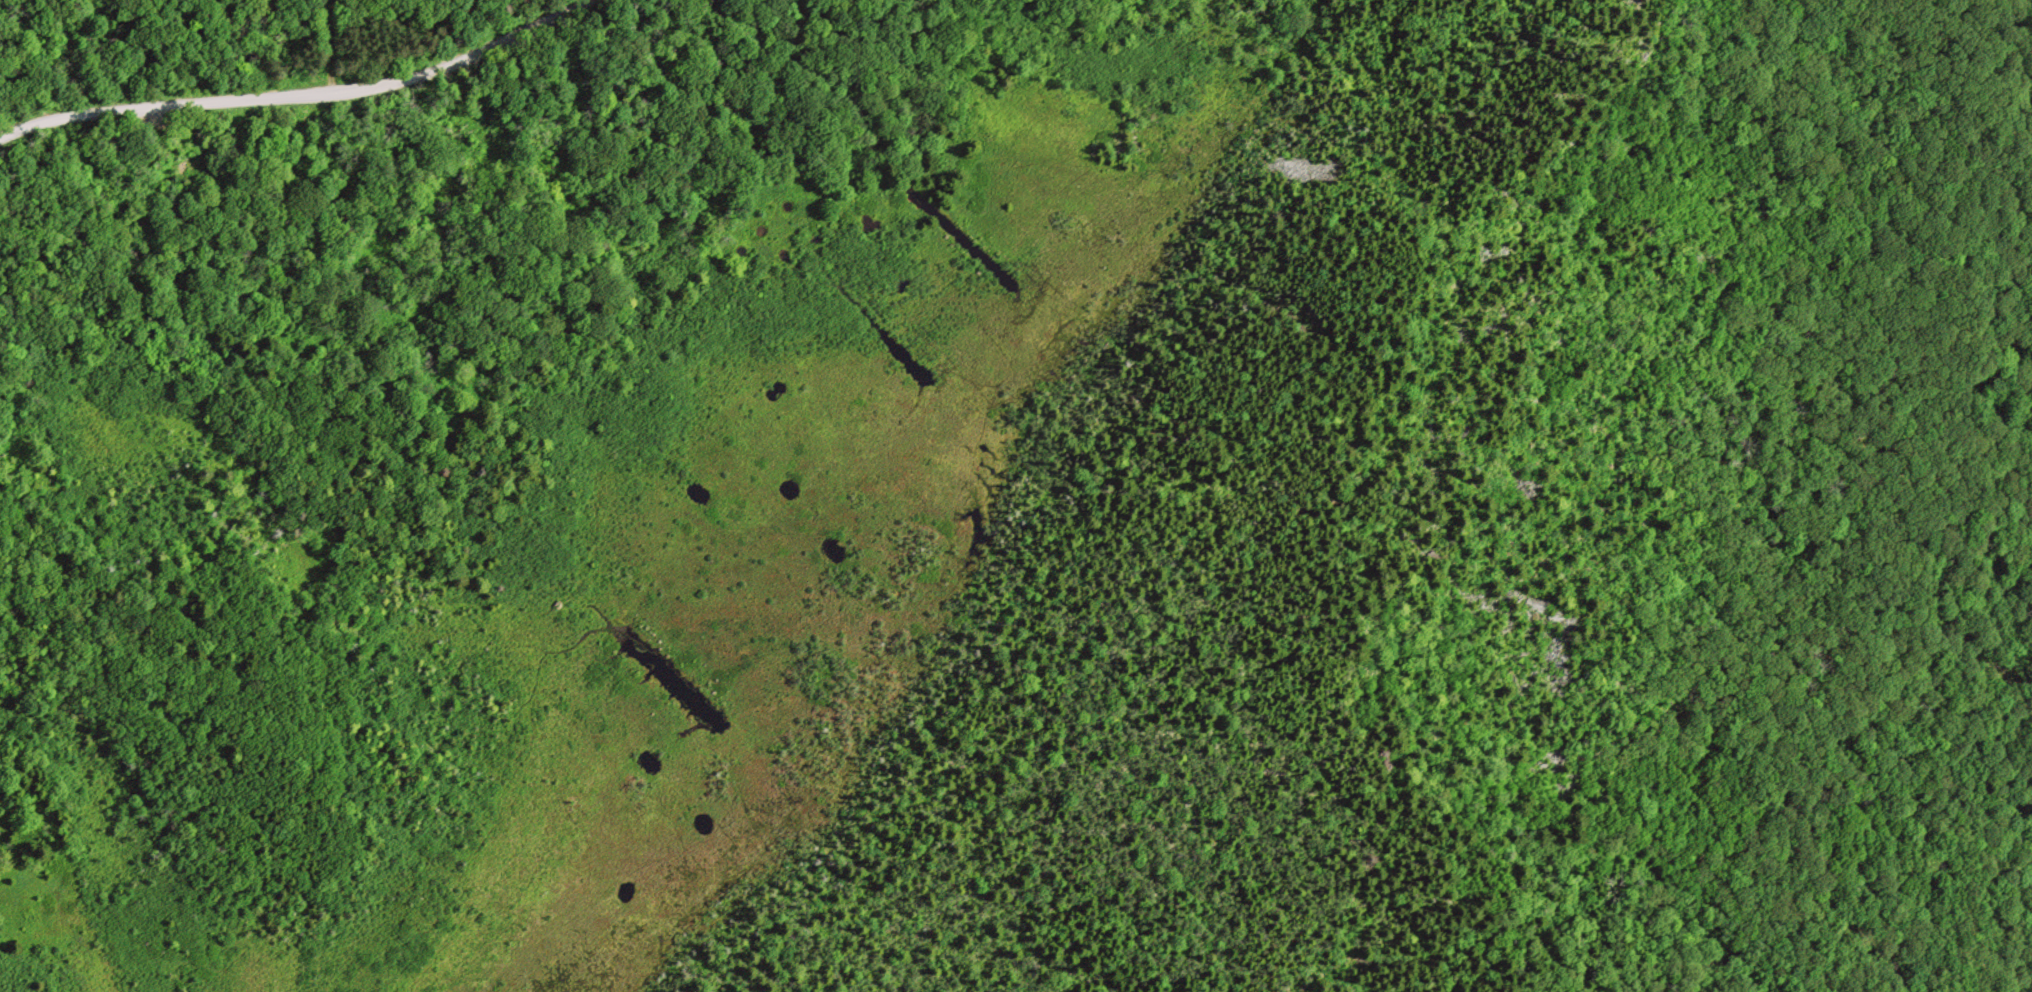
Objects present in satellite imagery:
road: (335, 46)
road: (463, 58)
road: (164, 106)
parking lot: (163, 115)
road: (1, 136)

